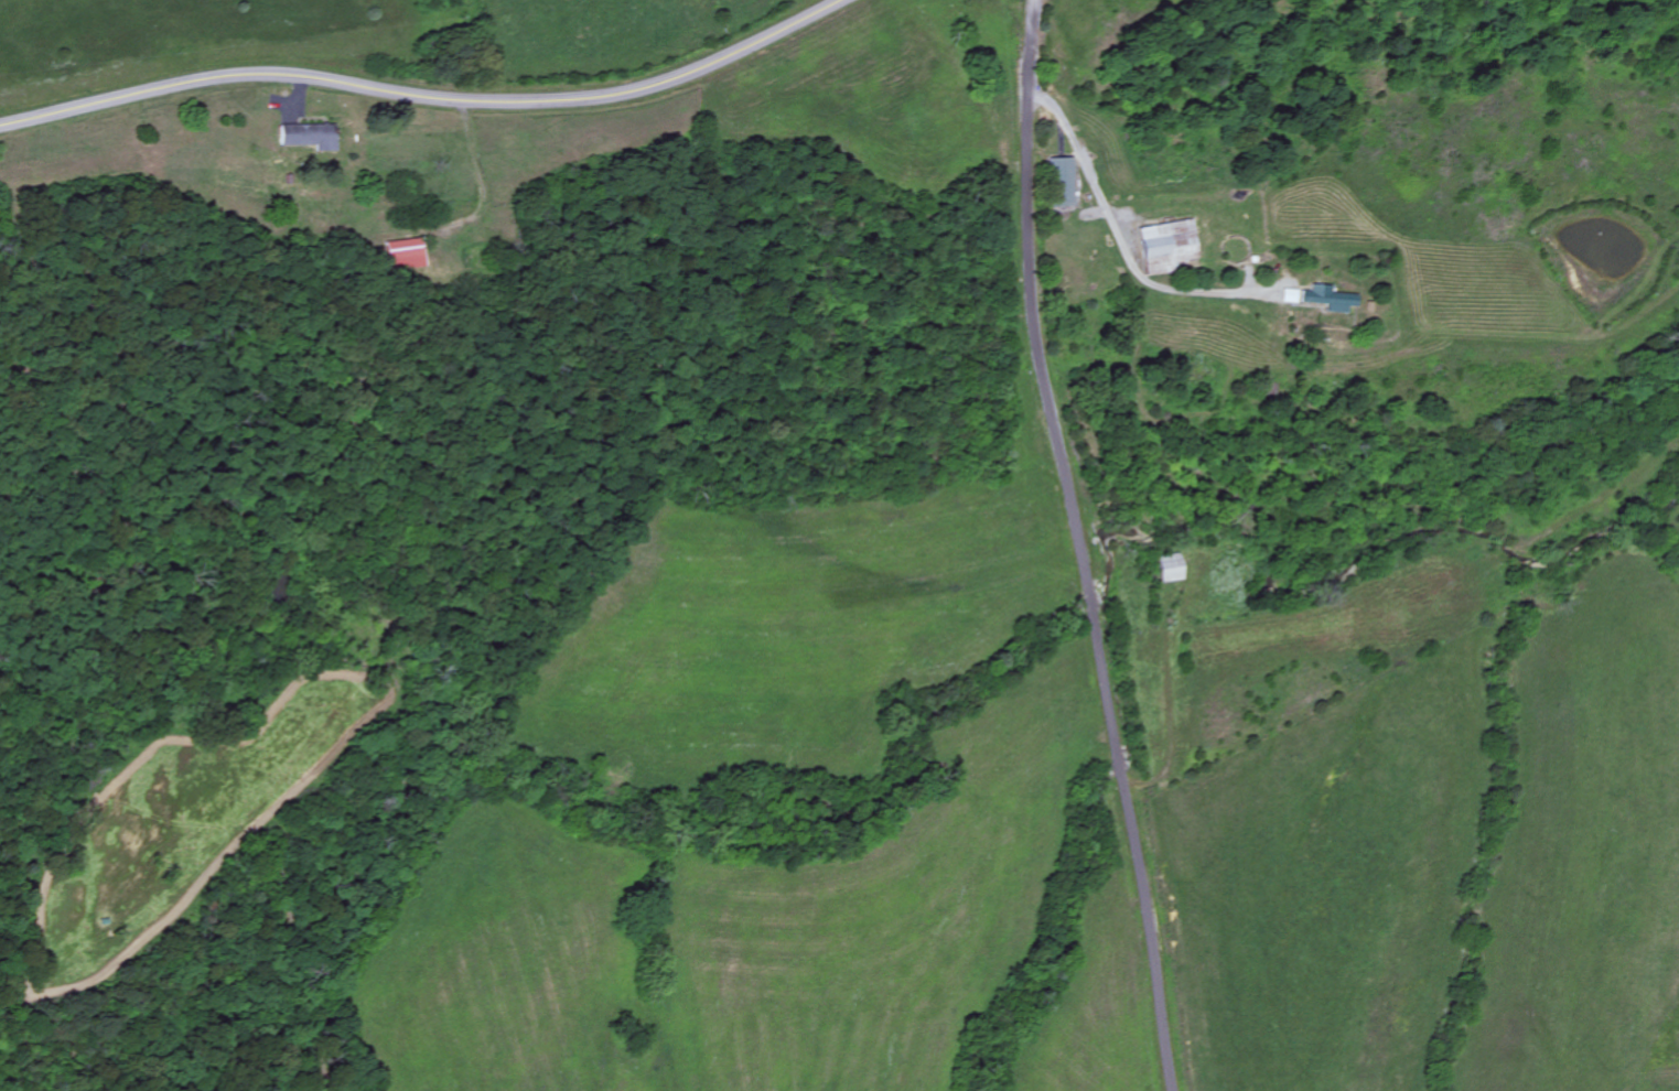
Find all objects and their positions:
road: (429, 95)
building: (308, 137)
building: (1063, 183)
building: (1171, 247)
building: (406, 256)
building: (1330, 300)
road: (1084, 547)
building: (1171, 570)

